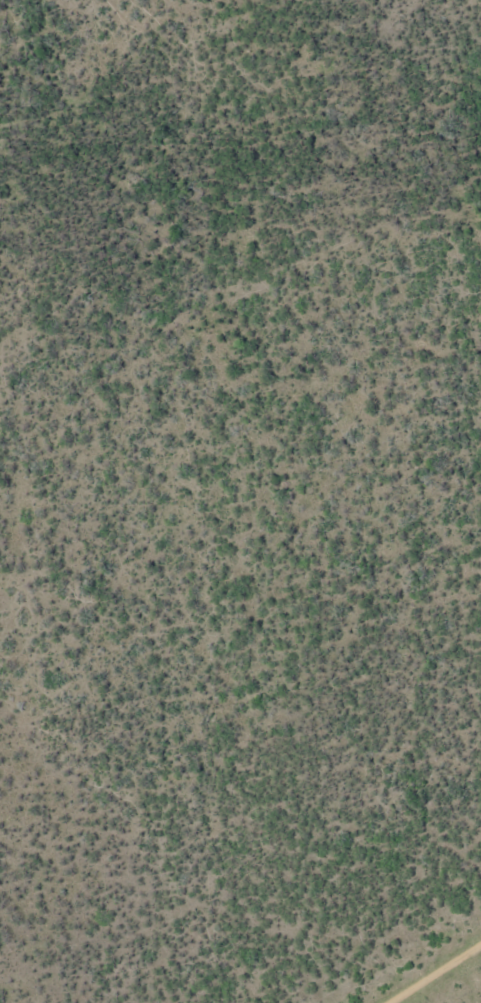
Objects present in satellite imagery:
road: (434, 972)

